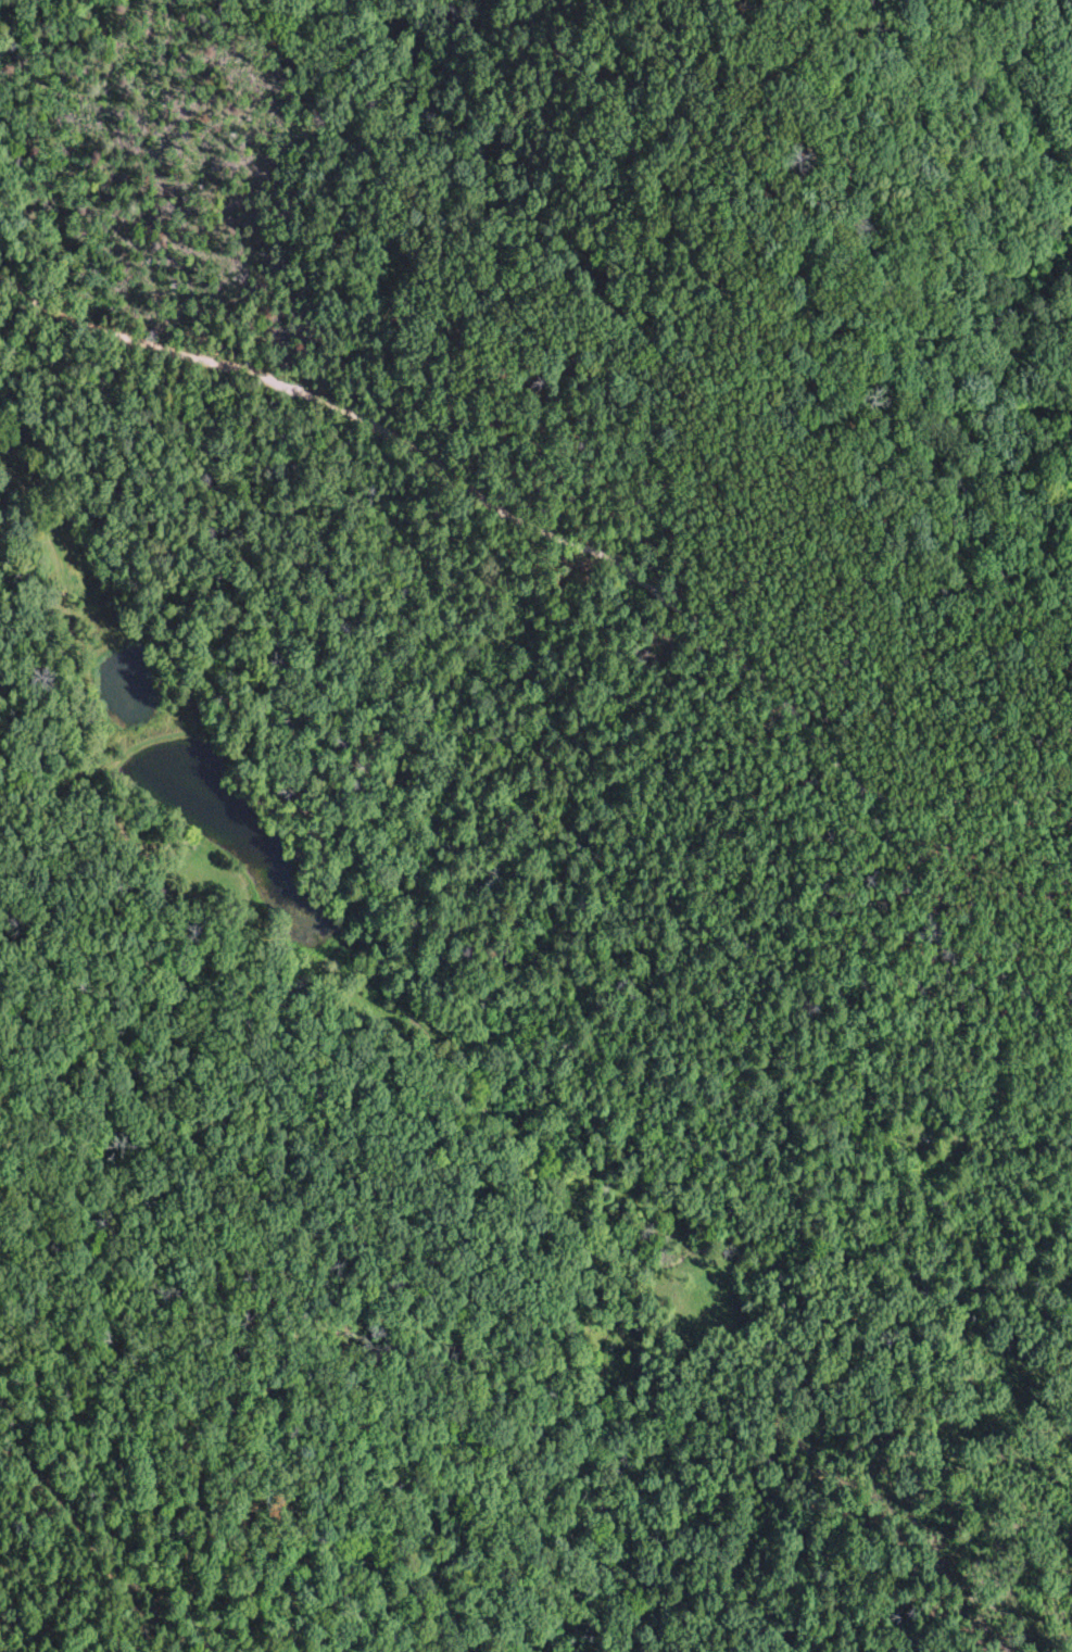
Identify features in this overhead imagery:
road: (569, 533)
road: (248, 1012)

